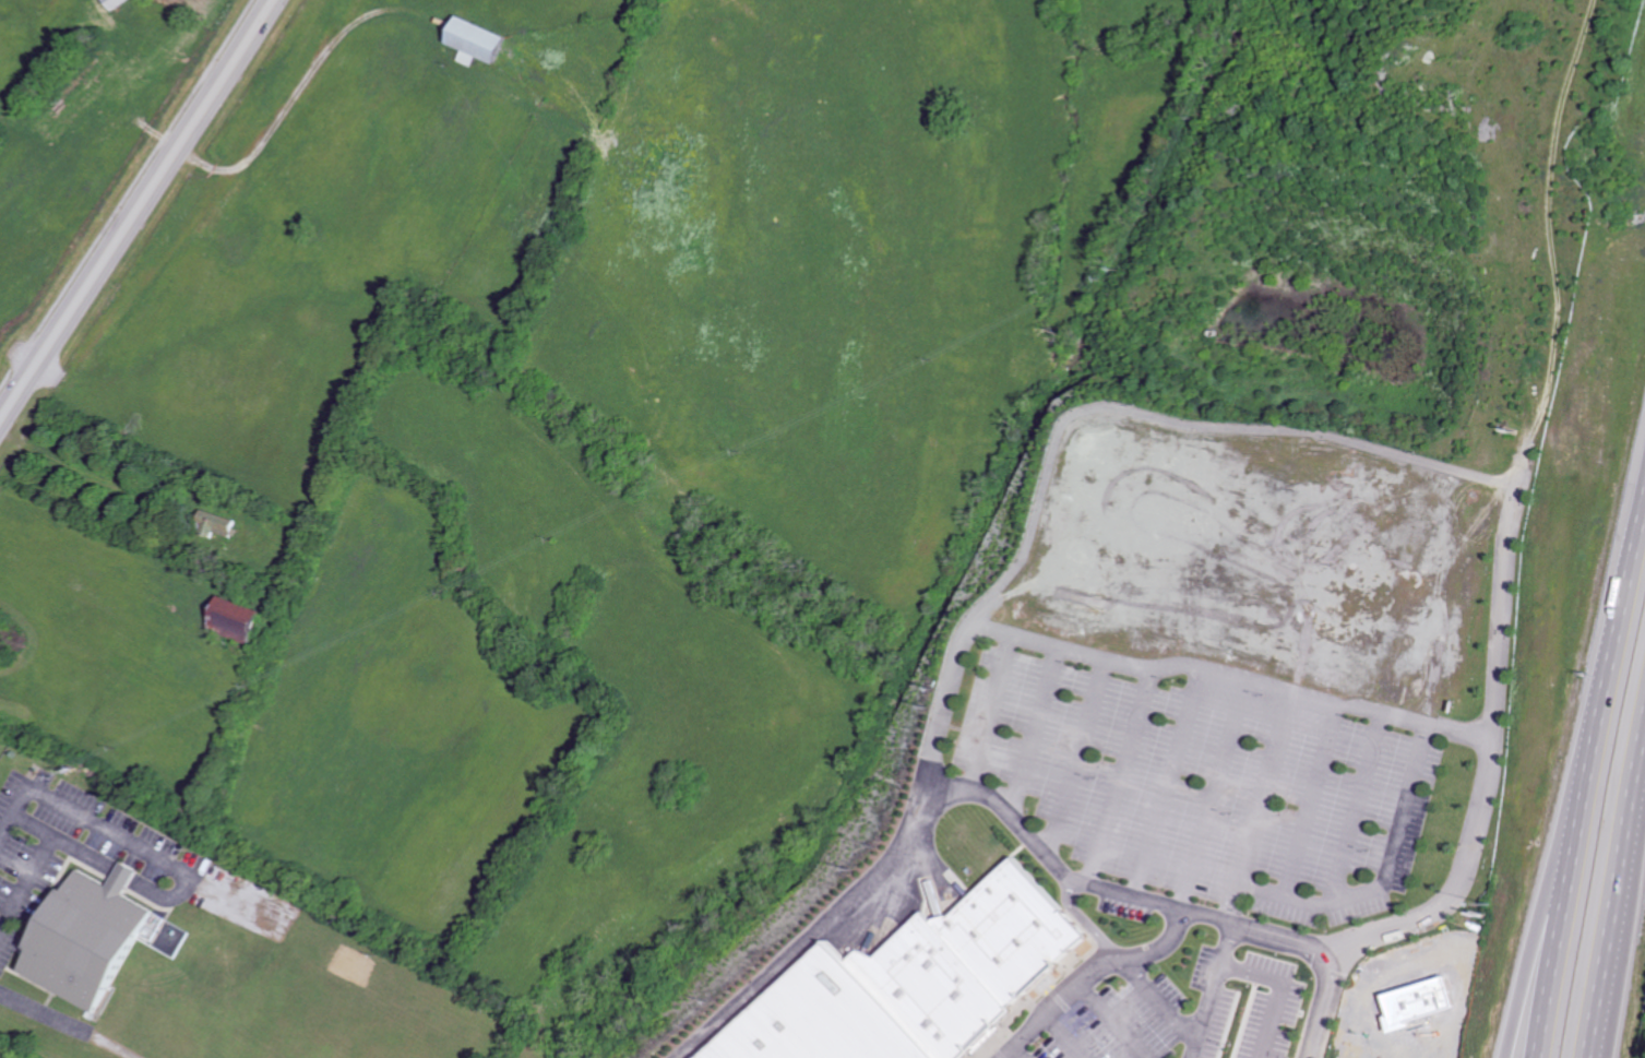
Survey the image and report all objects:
building: (117, 3)
building: (481, 43)
road: (138, 213)
road: (1099, 408)
road: (1523, 454)
building: (220, 522)
road: (1632, 564)
building: (238, 618)
road: (1233, 674)
road: (998, 715)
road: (1040, 736)
road: (1489, 756)
road: (1083, 758)
road: (1122, 775)
road: (1167, 782)
road: (1211, 794)
road: (1307, 801)
road: (1352, 807)
road: (33, 823)
road: (118, 833)
road: (1558, 839)
road: (1575, 839)
road: (44, 851)
road: (1378, 871)
road: (123, 872)
road: (1244, 876)
building: (121, 877)
road: (1117, 892)
road: (1613, 900)
road: (827, 929)
building: (85, 939)
building: (979, 960)
road: (1094, 979)
road: (1279, 988)
road: (1161, 1000)
road: (1321, 1006)
building: (829, 1018)
road: (1119, 1021)
road: (71, 1024)
road: (1075, 1036)
road: (1027, 1050)

